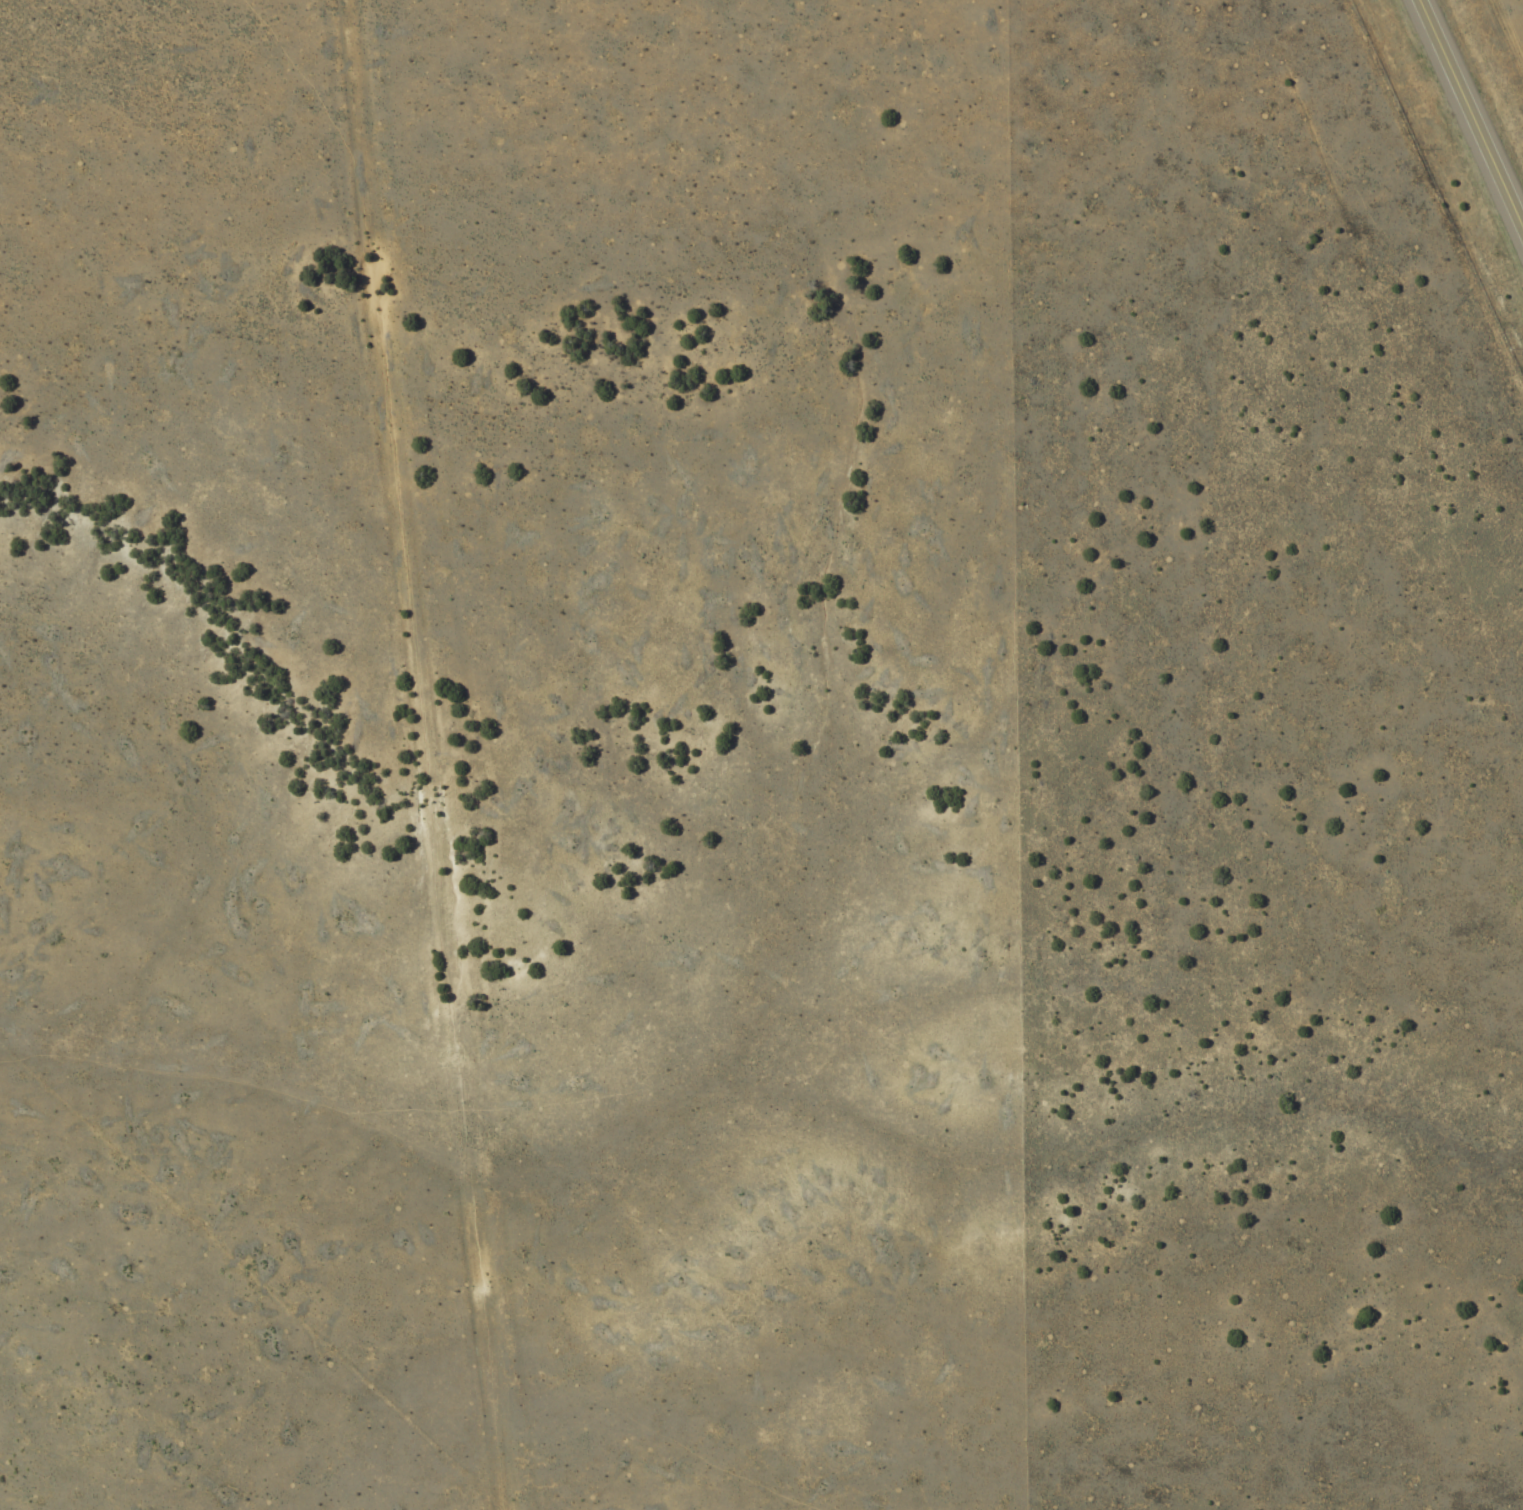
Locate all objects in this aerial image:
road: (1469, 118)

